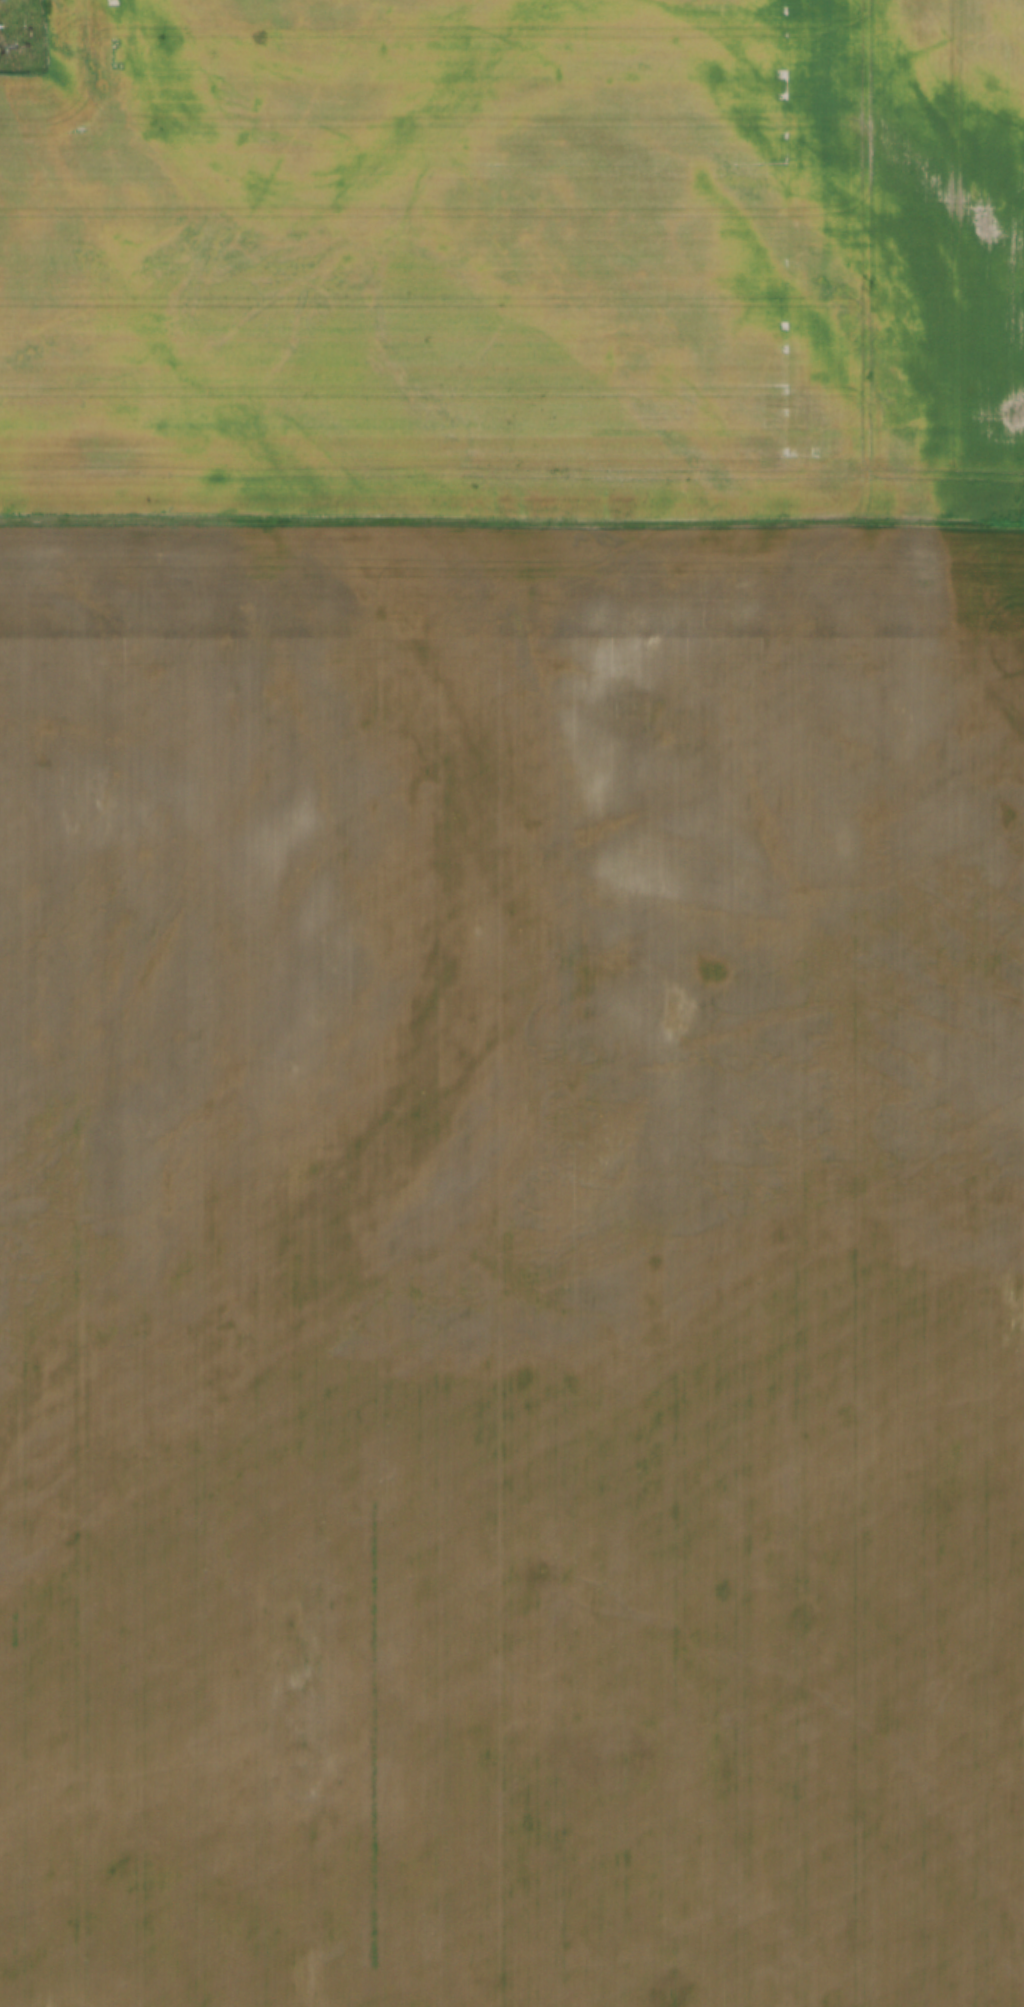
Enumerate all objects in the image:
road: (512, 518)

